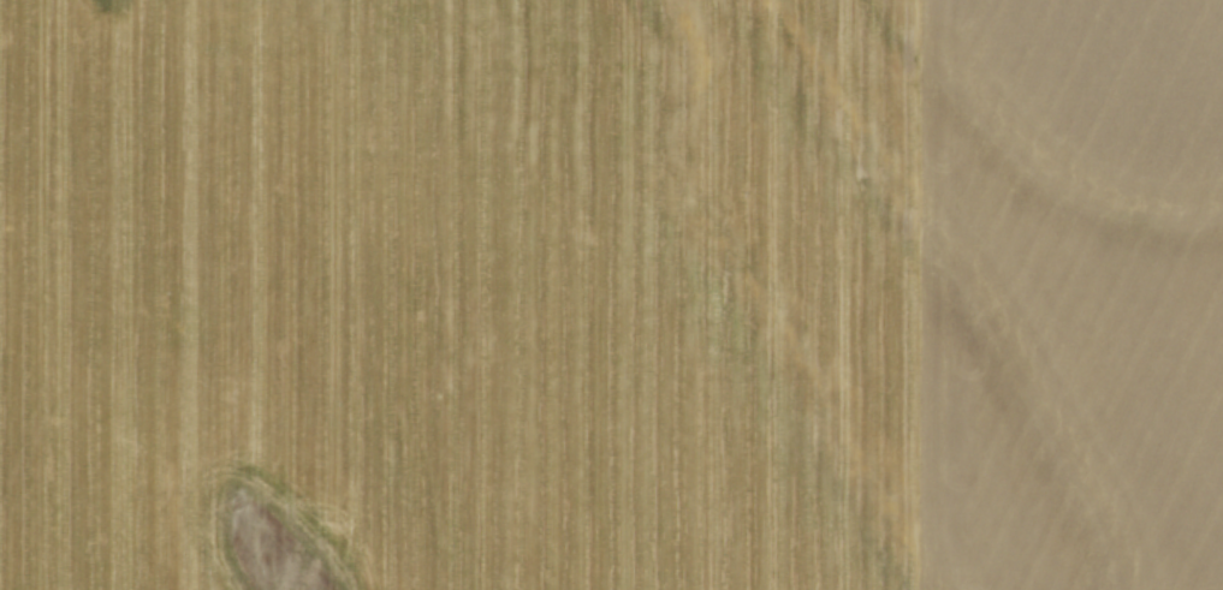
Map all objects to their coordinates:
crop: (611, 294)

